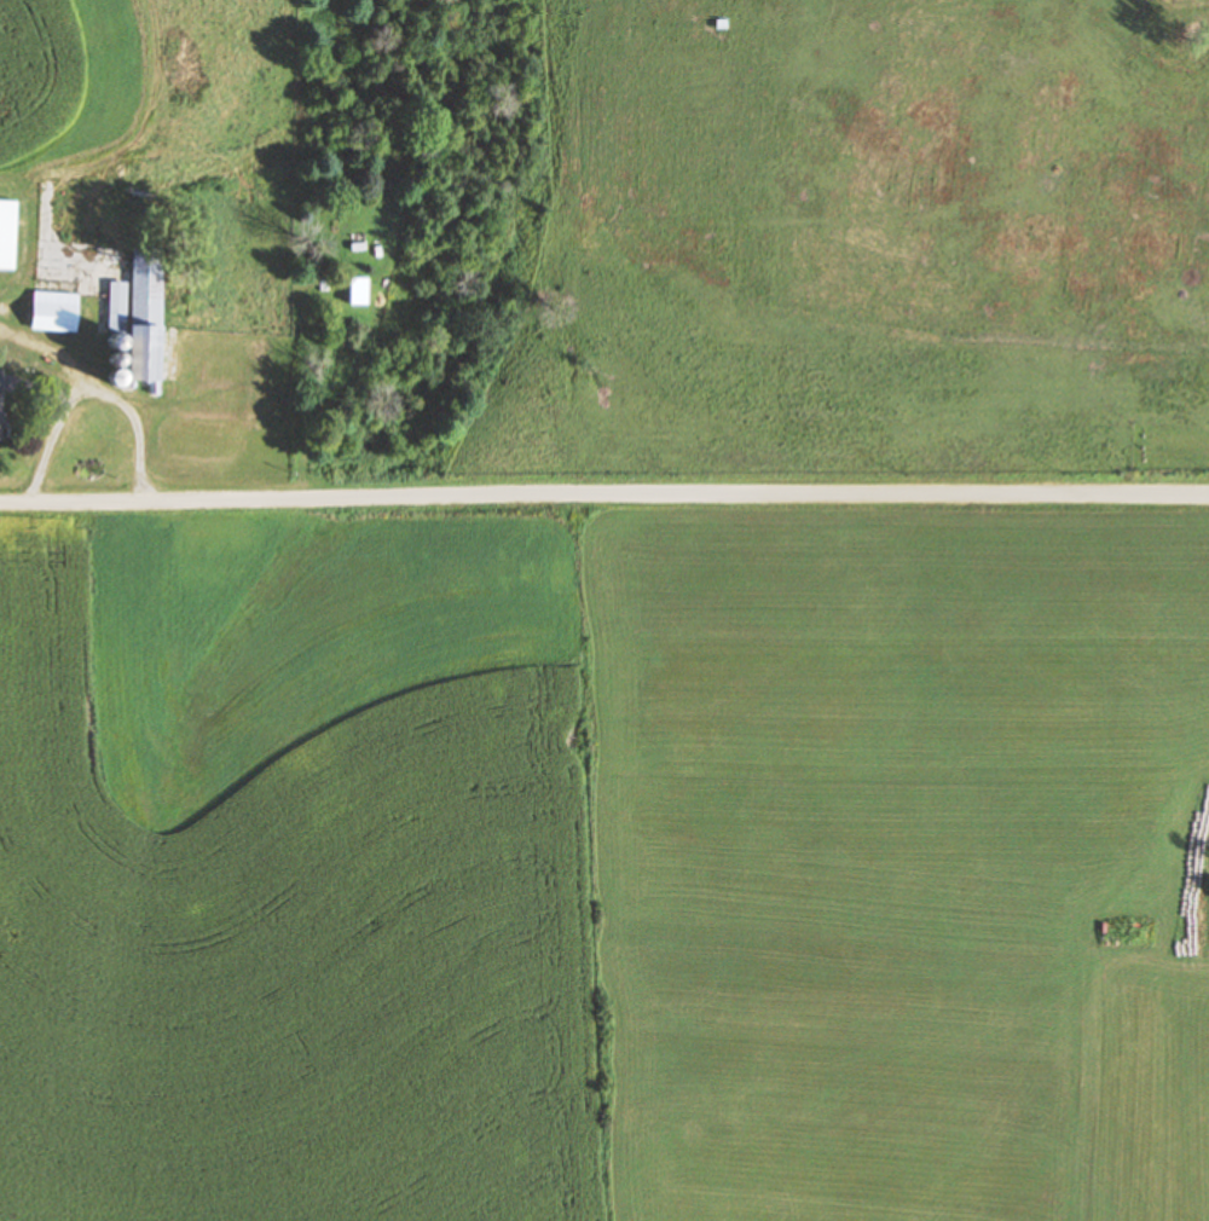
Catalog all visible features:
crop: (66, 81)
building: (4, 235)
building: (118, 306)
building: (17, 308)
building: (51, 313)
building: (147, 326)
silo: (115, 340)
road: (53, 353)
silo: (117, 359)
silo: (117, 380)
road: (91, 394)
building: (2, 407)
park: (1165, 445)
road: (603, 492)

